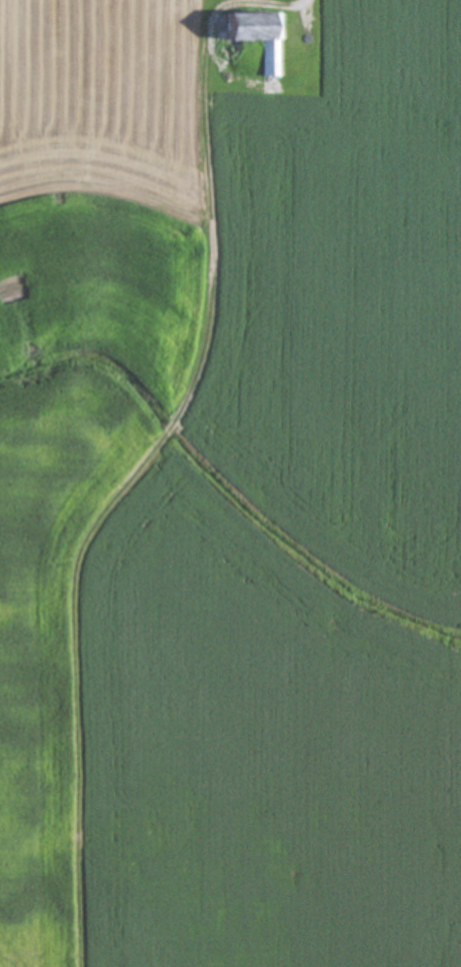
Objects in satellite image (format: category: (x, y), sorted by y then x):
building: (259, 37)

